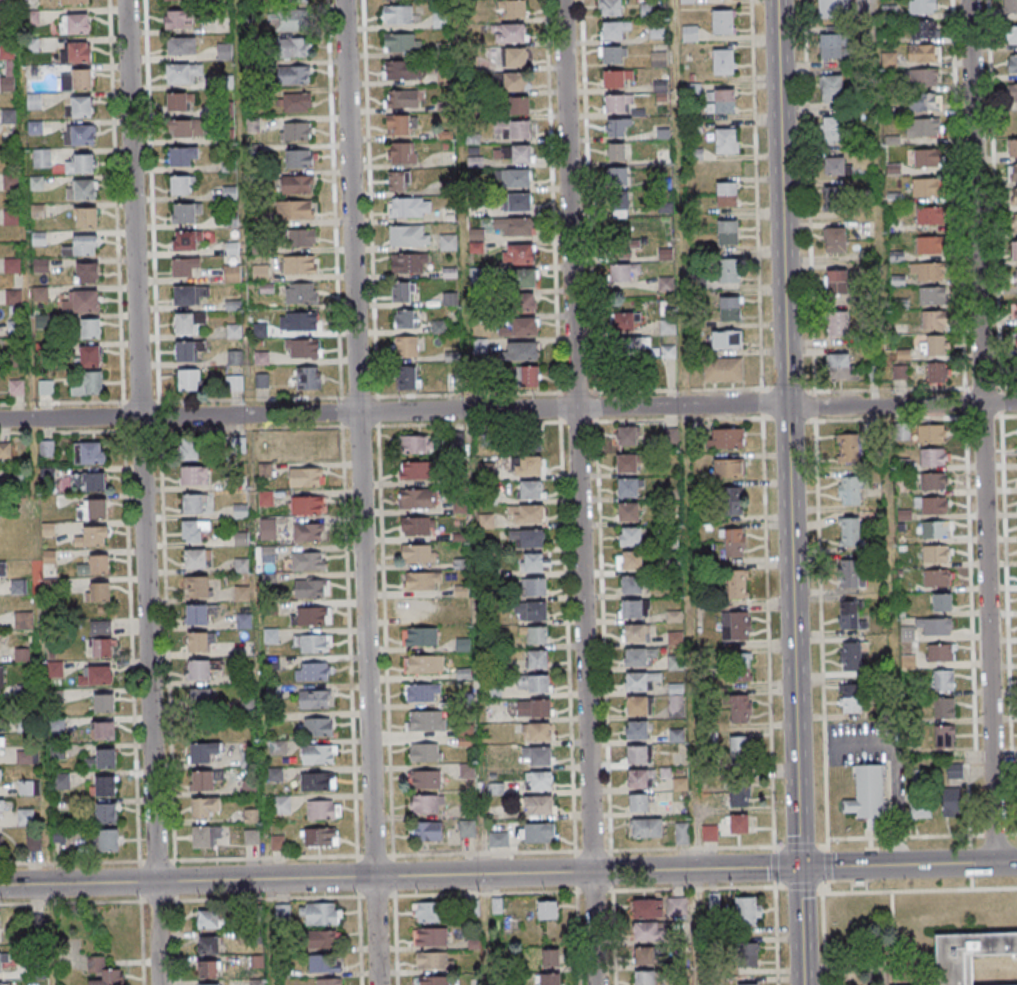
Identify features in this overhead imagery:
building: (176, 0)
building: (391, 0)
building: (4, 1)
building: (292, 1)
building: (74, 2)
building: (922, 6)
building: (1010, 6)
building: (610, 7)
building: (834, 8)
building: (513, 9)
building: (647, 11)
building: (397, 15)
building: (291, 19)
building: (180, 20)
building: (439, 21)
building: (722, 21)
building: (74, 23)
building: (924, 28)
building: (612, 30)
building: (509, 33)
building: (690, 33)
building: (1012, 34)
building: (401, 42)
building: (181, 46)
building: (294, 47)
building: (831, 47)
building: (224, 51)
building: (76, 52)
building: (923, 52)
building: (612, 54)
building: (515, 57)
building: (658, 59)
building: (723, 61)
building: (1012, 63)
building: (7, 68)
building: (399, 69)
building: (182, 73)
building: (294, 74)
building: (923, 77)
building: (616, 78)
building: (77, 79)
building: (515, 81)
building: (831, 89)
building: (1015, 93)
building: (402, 98)
building: (177, 102)
building: (296, 102)
building: (924, 102)
building: (617, 103)
building: (519, 105)
building: (80, 107)
road: (240, 112)
building: (400, 124)
building: (925, 127)
building: (617, 128)
building: (186, 129)
building: (511, 129)
building: (832, 130)
building: (296, 131)
building: (79, 135)
building: (725, 140)
building: (1012, 147)
building: (402, 152)
building: (617, 153)
building: (513, 154)
building: (182, 157)
building: (924, 157)
building: (41, 158)
building: (299, 158)
building: (81, 164)
building: (834, 166)
building: (1012, 172)
building: (617, 177)
building: (517, 178)
building: (398, 181)
building: (181, 185)
building: (297, 185)
building: (926, 186)
building: (81, 189)
building: (230, 192)
building: (726, 194)
building: (1014, 196)
building: (832, 198)
building: (520, 202)
building: (618, 205)
building: (410, 208)
building: (295, 211)
building: (185, 212)
building: (448, 215)
building: (930, 215)
building: (85, 216)
building: (231, 221)
building: (1015, 222)
building: (514, 226)
building: (727, 232)
building: (408, 236)
building: (300, 239)
building: (835, 240)
building: (187, 241)
building: (477, 241)
building: (448, 242)
building: (929, 245)
building: (82, 246)
building: (624, 248)
building: (1014, 249)
building: (518, 254)
building: (409, 263)
building: (300, 265)
building: (184, 267)
building: (730, 270)
building: (87, 272)
building: (619, 272)
building: (927, 272)
building: (232, 273)
building: (260, 273)
building: (476, 274)
building: (1016, 277)
building: (521, 278)
building: (836, 281)
building: (401, 292)
building: (301, 293)
building: (189, 295)
building: (13, 297)
building: (932, 297)
building: (81, 301)
building: (522, 302)
building: (729, 308)
building: (1016, 309)
building: (404, 320)
building: (934, 320)
building: (299, 321)
building: (625, 322)
building: (838, 322)
building: (187, 323)
building: (518, 326)
building: (91, 328)
building: (234, 331)
building: (726, 339)
building: (479, 346)
building: (932, 346)
building: (406, 347)
building: (633, 347)
building: (303, 348)
building: (187, 350)
building: (521, 351)
building: (90, 356)
building: (235, 358)
building: (838, 366)
building: (723, 369)
building: (900, 372)
building: (936, 373)
building: (527, 375)
building: (632, 375)
building: (308, 377)
building: (409, 377)
building: (188, 380)
building: (234, 382)
building: (88, 384)
building: (17, 387)
building: (46, 387)
road: (902, 405)
road: (681, 406)
road: (156, 412)
road: (287, 414)
road: (760, 423)
road: (981, 431)
building: (931, 433)
road: (683, 434)
building: (626, 436)
road: (468, 437)
building: (725, 438)
building: (415, 444)
building: (848, 448)
building: (189, 449)
building: (4, 450)
building: (90, 453)
building: (933, 457)
building: (626, 463)
building: (526, 465)
building: (727, 467)
building: (415, 470)
building: (194, 475)
building: (306, 476)
building: (933, 481)
building: (94, 482)
building: (628, 487)
building: (531, 489)
building: (849, 490)
road: (141, 492)
road: (360, 492)
road: (578, 492)
road: (789, 492)
building: (266, 498)
building: (415, 498)
building: (730, 501)
building: (192, 503)
building: (306, 505)
building: (931, 505)
building: (93, 509)
building: (628, 511)
building: (526, 514)
building: (486, 521)
building: (416, 525)
building: (268, 528)
building: (936, 529)
building: (194, 530)
building: (307, 532)
building: (849, 532)
building: (630, 536)
building: (93, 537)
building: (526, 538)
building: (733, 542)
building: (418, 554)
building: (937, 554)
building: (197, 558)
building: (628, 560)
building: (308, 561)
building: (535, 562)
building: (95, 565)
building: (241, 565)
building: (3, 570)
building: (849, 573)
building: (937, 578)
building: (422, 581)
building: (631, 584)
building: (737, 584)
building: (197, 586)
building: (535, 586)
building: (311, 589)
building: (98, 591)
building: (941, 601)
building: (632, 608)
building: (419, 610)
building: (530, 611)
building: (197, 615)
building: (848, 615)
building: (314, 616)
building: (23, 620)
building: (244, 621)
building: (735, 625)
building: (934, 626)
building: (100, 628)
building: (634, 633)
building: (907, 633)
building: (535, 635)
building: (420, 638)
building: (197, 643)
building: (312, 644)
building: (463, 645)
building: (101, 648)
building: (940, 652)
building: (850, 656)
building: (635, 657)
building: (537, 659)
building: (424, 665)
building: (740, 667)
building: (198, 671)
building: (312, 672)
building: (97, 676)
building: (1, 679)
building: (943, 680)
building: (635, 681)
building: (533, 684)
building: (494, 691)
building: (422, 694)
building: (849, 698)
building: (314, 699)
road: (41, 701)
building: (201, 701)
building: (676, 701)
building: (104, 702)
building: (637, 705)
building: (945, 708)
building: (533, 709)
building: (740, 709)
building: (426, 721)
building: (318, 727)
building: (103, 730)
building: (636, 730)
building: (539, 733)
building: (466, 737)
building: (944, 737)
building: (2, 742)
building: (741, 749)
building: (203, 751)
building: (425, 752)
building: (319, 753)
building: (636, 755)
building: (27, 757)
building: (540, 757)
building: (102, 760)
building: (955, 771)
building: (0, 773)
building: (665, 773)
building: (425, 779)
building: (640, 779)
building: (201, 780)
building: (61, 781)
building: (318, 781)
building: (539, 781)
building: (680, 784)
building: (104, 785)
building: (28, 787)
building: (248, 787)
building: (868, 792)
building: (739, 796)
building: (639, 802)
building: (951, 802)
building: (426, 804)
building: (2, 805)
building: (280, 805)
building: (539, 805)
building: (204, 807)
building: (323, 809)
building: (920, 809)
building: (105, 813)
building: (25, 817)
building: (738, 824)
building: (647, 828)
building: (426, 831)
building: (682, 833)
building: (537, 834)
building: (204, 836)
building: (321, 837)
building: (498, 839)
building: (107, 840)
building: (277, 843)
building: (0, 846)
road: (707, 848)
road: (372, 856)
traffic signals: (799, 868)
road: (508, 873)
road: (689, 889)
road: (222, 899)
building: (496, 905)
building: (677, 906)
building: (646, 908)
building: (282, 910)
building: (547, 910)
building: (747, 910)
building: (426, 912)
building: (320, 913)
building: (209, 919)
road: (695, 927)
road: (486, 929)
road: (268, 932)
building: (648, 932)
building: (430, 937)
building: (324, 939)
building: (208, 945)
building: (747, 953)
building: (967, 955)
building: (644, 956)
building: (551, 959)
building: (433, 961)
building: (0, 962)
building: (325, 963)
building: (209, 969)
building: (102, 972)
building: (645, 978)
building: (549, 979)
building: (432, 980)
building: (329, 981)
building: (3, 983)
building: (209, 984)
building: (746, 984)

